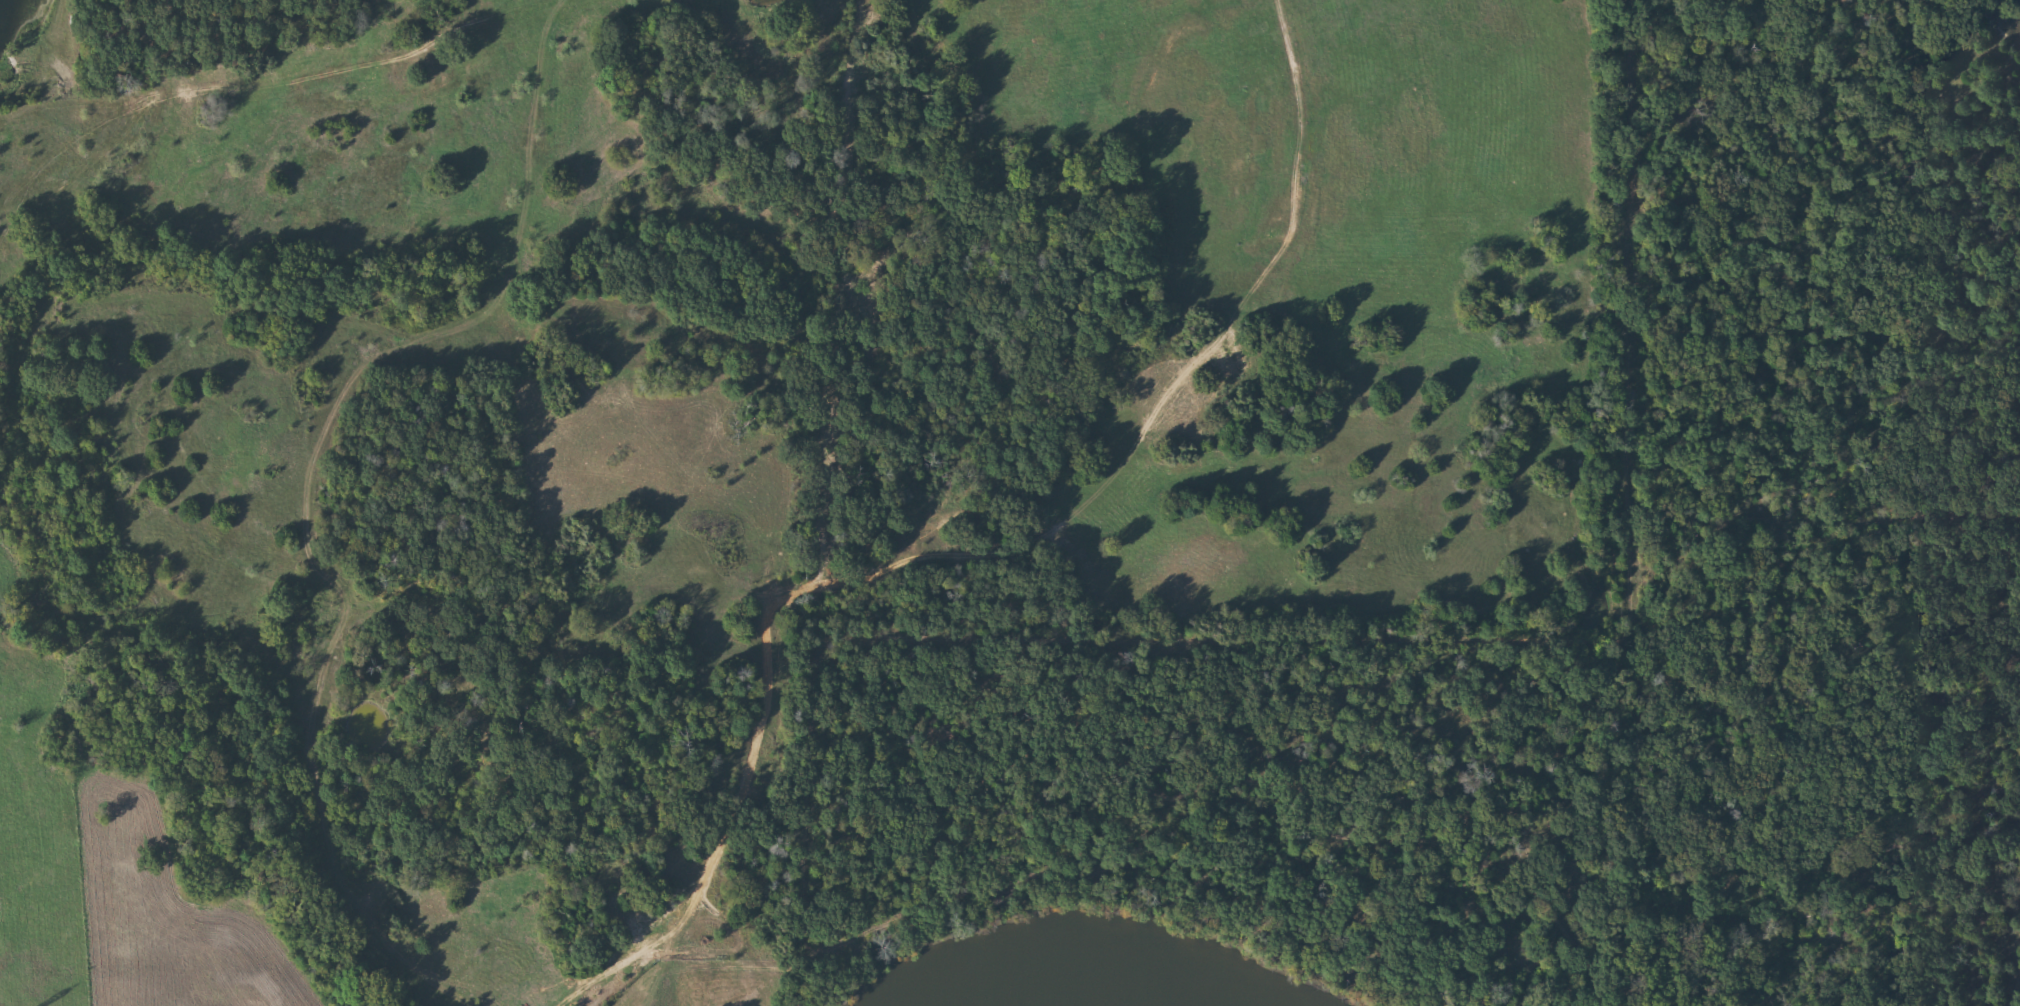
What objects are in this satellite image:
road: (264, 107)

